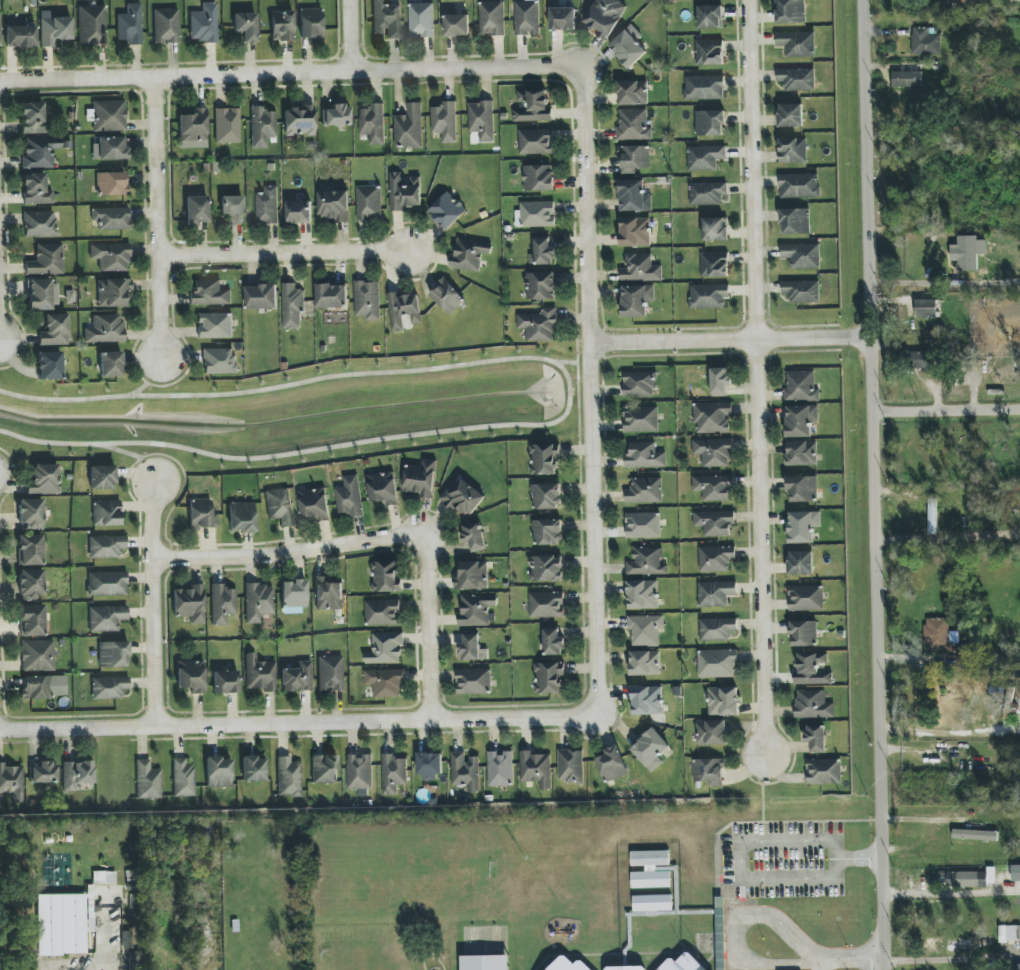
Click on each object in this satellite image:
building: (790, 11)
building: (605, 16)
building: (526, 17)
building: (710, 17)
building: (491, 18)
building: (386, 19)
building: (562, 19)
building: (421, 20)
building: (204, 23)
building: (310, 23)
building: (91, 25)
building: (130, 25)
building: (457, 25)
building: (166, 26)
building: (245, 26)
building: (282, 26)
building: (53, 29)
building: (0, 33)
building: (20, 36)
road: (349, 36)
building: (926, 42)
building: (797, 43)
building: (628, 46)
building: (710, 52)
road: (287, 73)
building: (796, 79)
building: (906, 79)
building: (704, 88)
building: (632, 93)
building: (533, 107)
building: (790, 115)
building: (109, 116)
building: (336, 116)
building: (32, 118)
building: (300, 120)
building: (481, 120)
building: (445, 122)
building: (372, 123)
building: (710, 123)
building: (633, 125)
building: (227, 126)
building: (262, 126)
building: (409, 127)
building: (193, 129)
building: (536, 141)
building: (109, 149)
building: (792, 150)
building: (40, 152)
building: (634, 158)
building: (705, 158)
building: (538, 178)
building: (111, 183)
building: (799, 185)
building: (36, 190)
building: (405, 192)
building: (707, 193)
building: (634, 196)
building: (369, 203)
building: (267, 206)
building: (334, 206)
building: (232, 209)
building: (196, 210)
building: (447, 210)
building: (298, 212)
building: (537, 214)
road: (160, 217)
building: (111, 218)
building: (795, 221)
building: (40, 224)
building: (715, 229)
building: (635, 232)
building: (542, 253)
building: (967, 253)
road: (285, 254)
building: (469, 255)
building: (801, 255)
building: (111, 256)
building: (46, 260)
building: (714, 264)
building: (640, 268)
road: (948, 283)
building: (540, 286)
building: (801, 291)
building: (113, 292)
building: (209, 293)
building: (42, 294)
building: (331, 296)
building: (447, 296)
building: (708, 296)
building: (261, 297)
building: (367, 300)
building: (636, 300)
building: (292, 307)
building: (926, 308)
building: (403, 311)
building: (214, 325)
building: (539, 325)
building: (105, 329)
building: (54, 330)
road: (733, 343)
building: (922, 360)
building: (219, 361)
road: (573, 363)
building: (110, 364)
building: (49, 366)
road: (757, 377)
road: (150, 380)
building: (720, 381)
building: (639, 384)
building: (801, 386)
road: (590, 392)
road: (569, 394)
road: (949, 409)
building: (712, 417)
building: (640, 419)
building: (800, 420)
building: (713, 452)
building: (801, 453)
building: (644, 456)
road: (134, 457)
building: (544, 459)
building: (101, 477)
building: (421, 478)
building: (43, 480)
road: (879, 484)
building: (713, 487)
building: (383, 488)
building: (802, 488)
building: (644, 490)
building: (546, 496)
building: (349, 497)
building: (463, 497)
building: (314, 504)
building: (279, 506)
road: (909, 510)
building: (106, 513)
building: (30, 514)
building: (201, 514)
building: (932, 516)
building: (241, 517)
building: (714, 522)
building: (643, 525)
building: (802, 526)
building: (548, 532)
building: (474, 536)
road: (949, 540)
building: (105, 546)
building: (29, 550)
road: (288, 555)
building: (716, 558)
building: (646, 562)
building: (800, 563)
building: (546, 568)
building: (385, 576)
building: (472, 576)
building: (106, 583)
building: (30, 584)
building: (715, 593)
building: (328, 594)
building: (642, 594)
building: (294, 597)
building: (805, 598)
building: (258, 602)
building: (189, 603)
road: (156, 604)
building: (222, 604)
building: (546, 605)
building: (476, 609)
building: (383, 613)
building: (106, 618)
building: (31, 620)
road: (428, 627)
building: (717, 629)
building: (645, 630)
building: (803, 633)
building: (939, 635)
building: (553, 642)
building: (385, 648)
building: (472, 648)
building: (113, 654)
building: (37, 655)
building: (645, 663)
building: (717, 664)
building: (811, 669)
building: (259, 674)
building: (191, 676)
building: (548, 677)
building: (297, 678)
building: (473, 681)
building: (225, 682)
building: (385, 682)
building: (36, 688)
building: (109, 688)
building: (647, 700)
building: (723, 701)
building: (813, 705)
road: (296, 722)
building: (711, 732)
road: (945, 733)
building: (816, 738)
building: (650, 750)
building: (612, 764)
building: (429, 766)
building: (570, 766)
building: (254, 769)
building: (324, 769)
building: (500, 769)
building: (535, 769)
building: (359, 771)
building: (465, 771)
building: (709, 771)
building: (823, 771)
building: (218, 772)
building: (44, 773)
building: (393, 773)
building: (76, 775)
building: (289, 777)
building: (183, 778)
building: (11, 781)
building: (147, 781)
building: (974, 835)
road: (744, 839)
building: (651, 869)
building: (1015, 873)
building: (104, 878)
building: (972, 878)
road: (950, 892)
building: (653, 903)
building: (62, 923)
road: (735, 927)
building: (1008, 933)
building: (126, 940)
building: (972, 943)
road: (939, 958)
road: (849, 959)
building: (486, 963)
building: (681, 963)
building: (566, 964)
road: (818, 964)
building: (623, 967)
building: (1018, 969)

